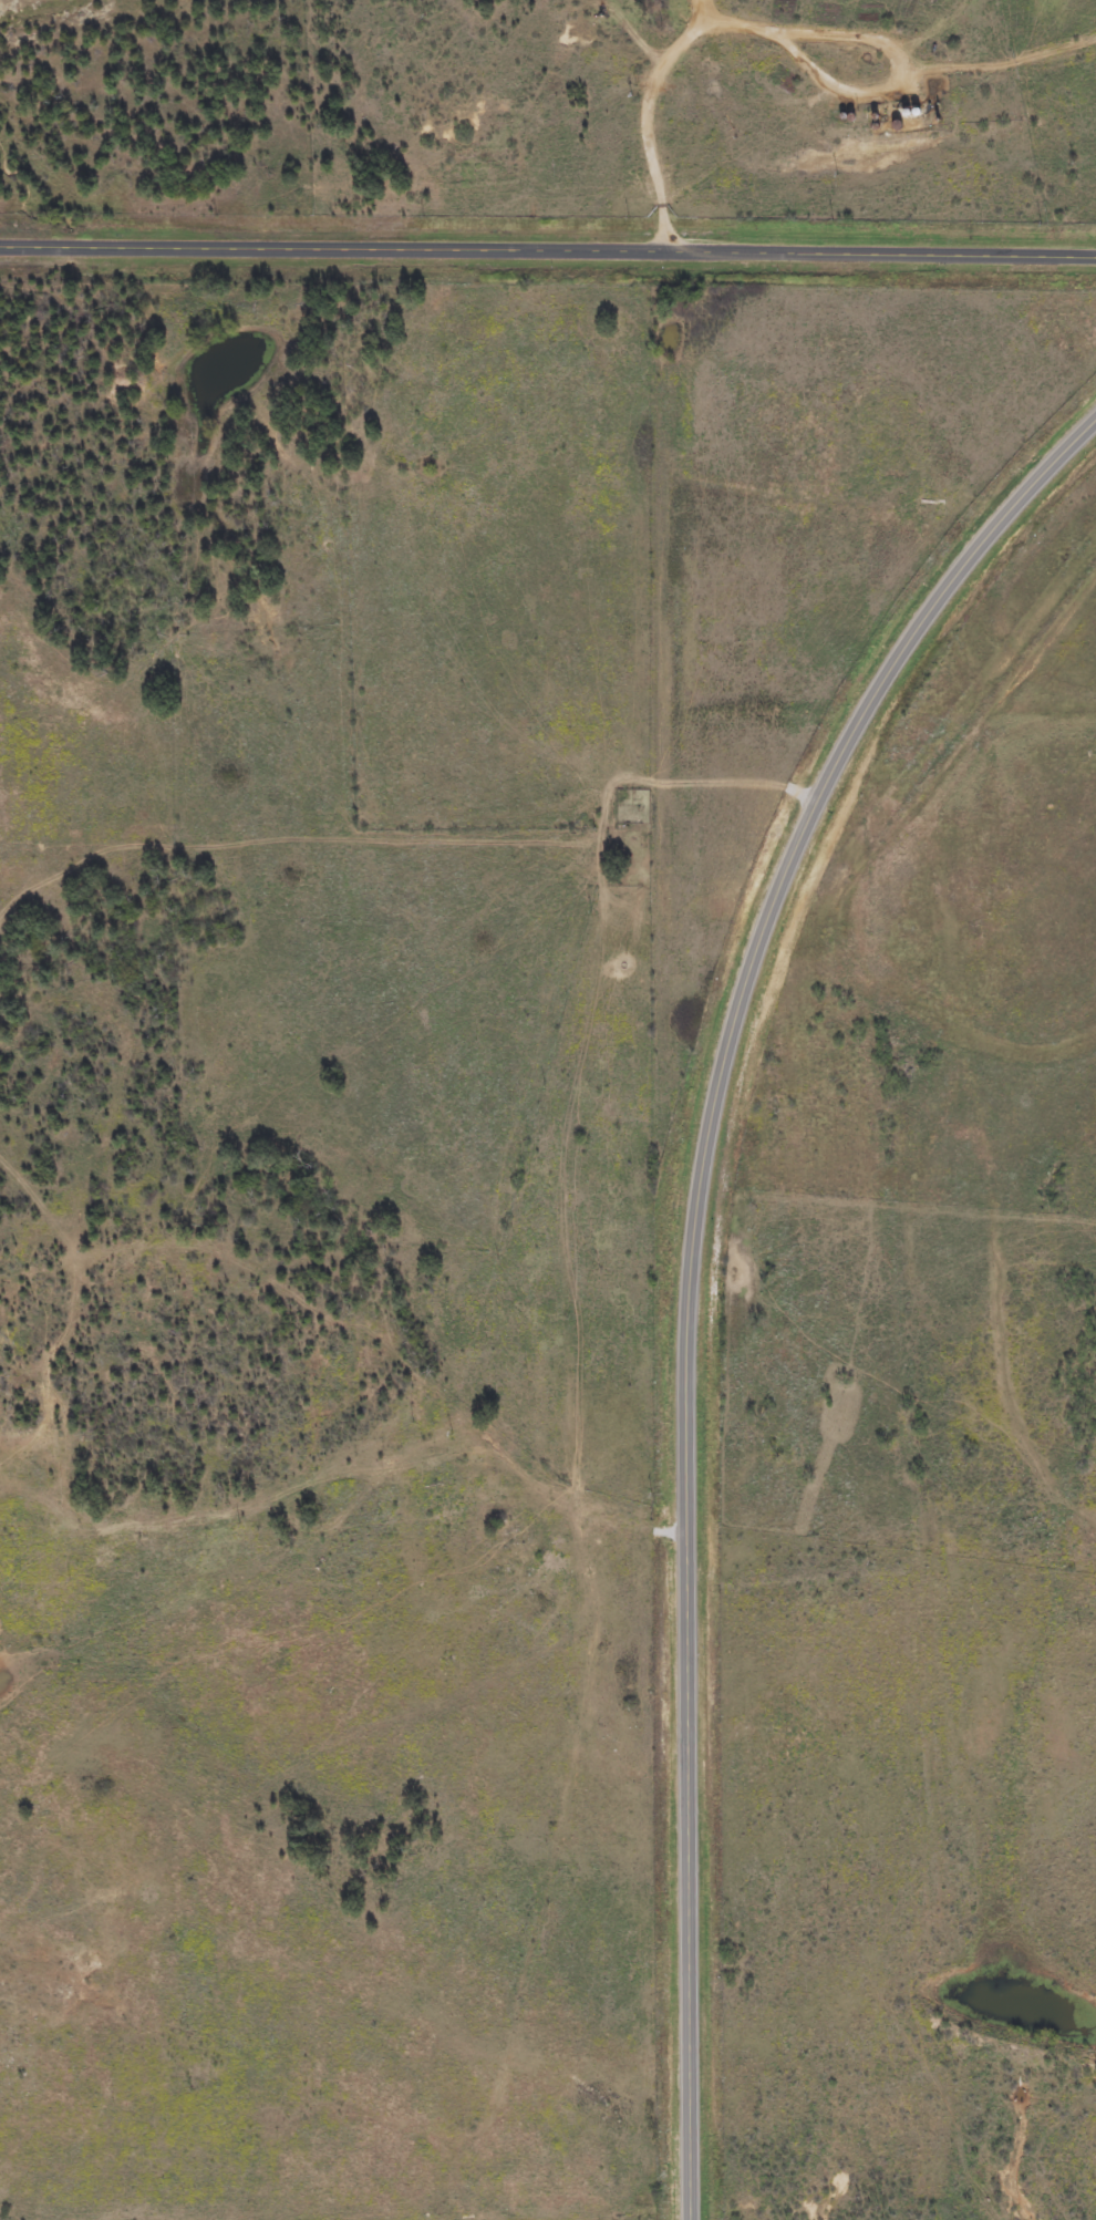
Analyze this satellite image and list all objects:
road: (538, 118)
road: (548, 250)
road: (692, 1264)

